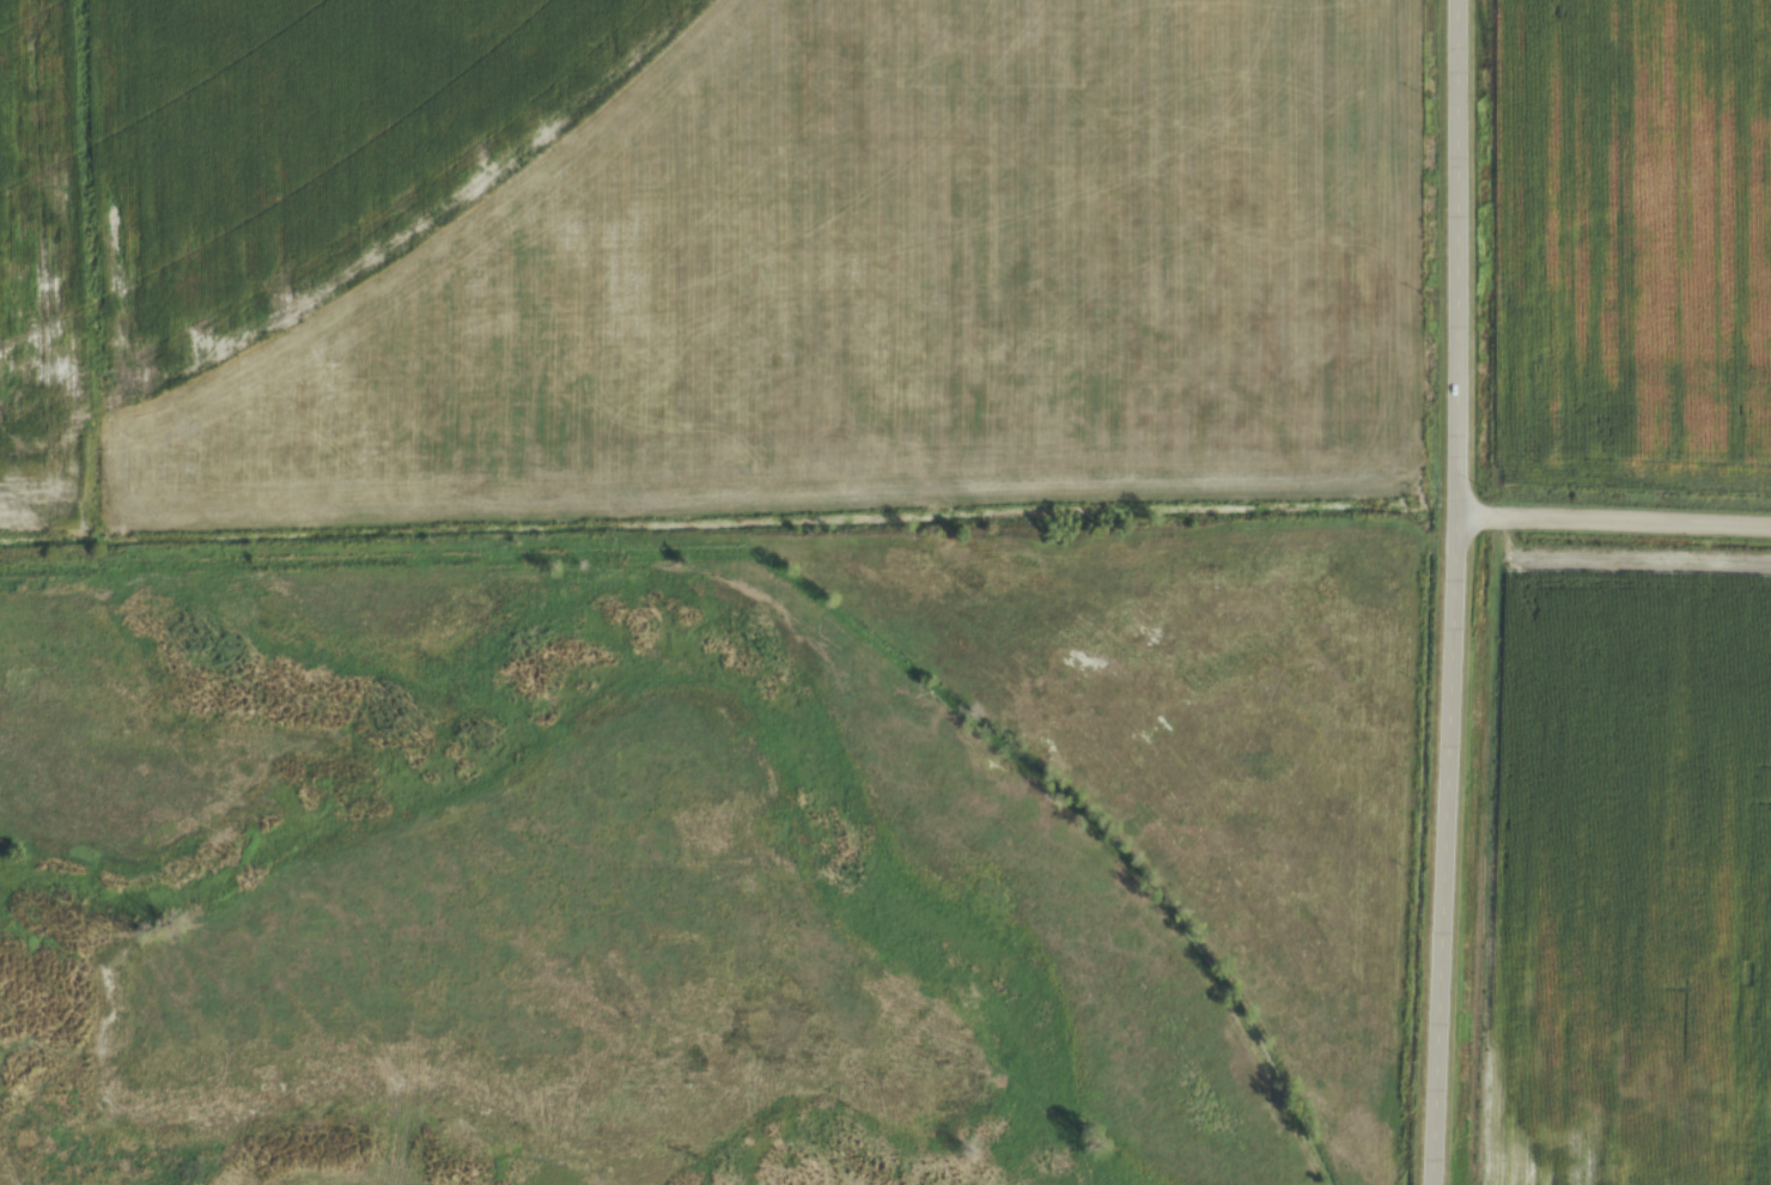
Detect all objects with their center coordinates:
road: (1614, 519)
road: (1454, 592)
crop: (1630, 874)

